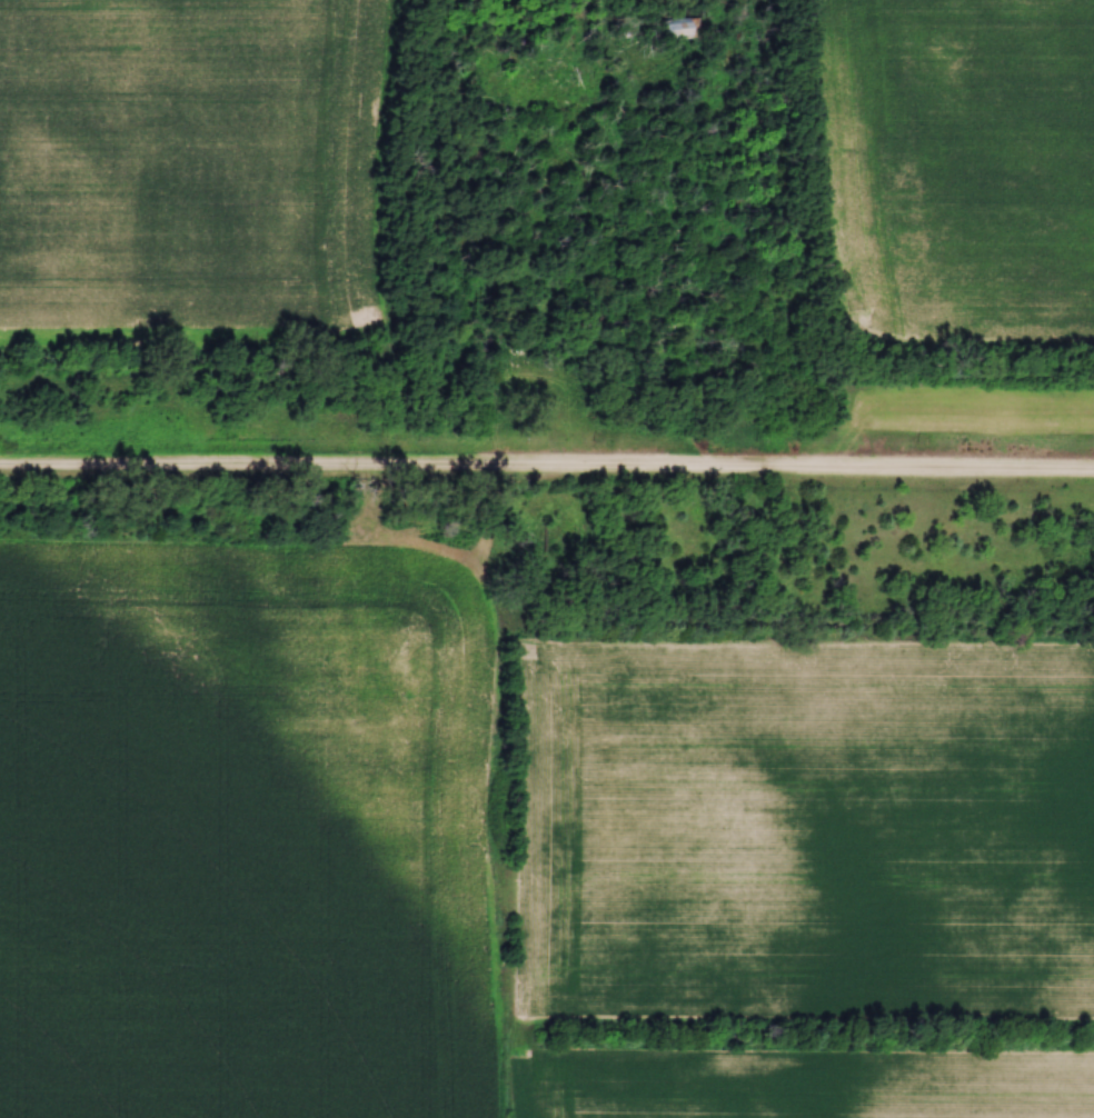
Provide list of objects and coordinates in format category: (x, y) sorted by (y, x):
road: (547, 473)

